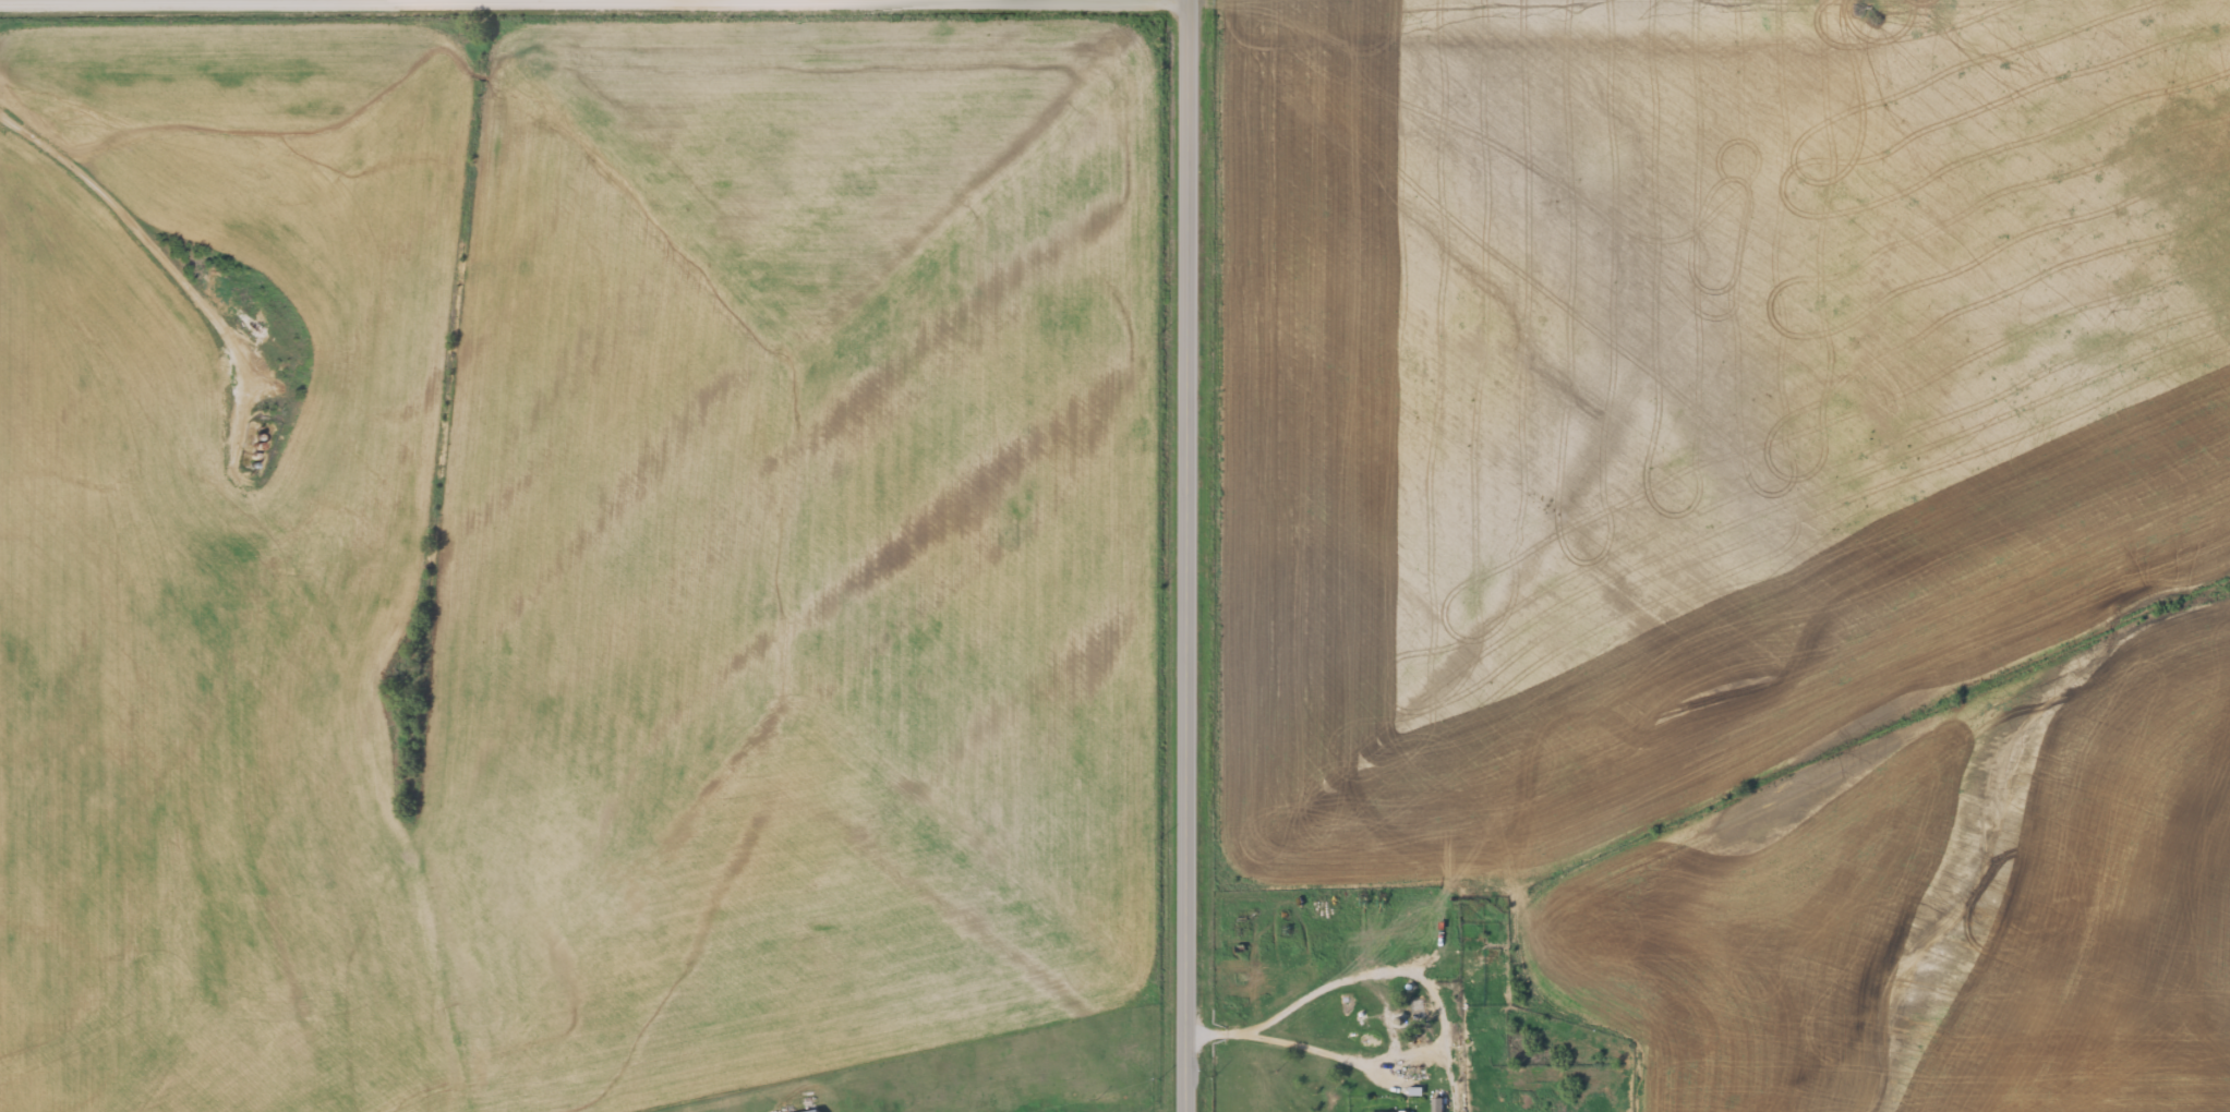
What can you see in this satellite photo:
road: (596, 1)
road: (1192, 556)
building: (1473, 964)
building: (1436, 1104)
building: (816, 1111)
building: (1389, 1111)

